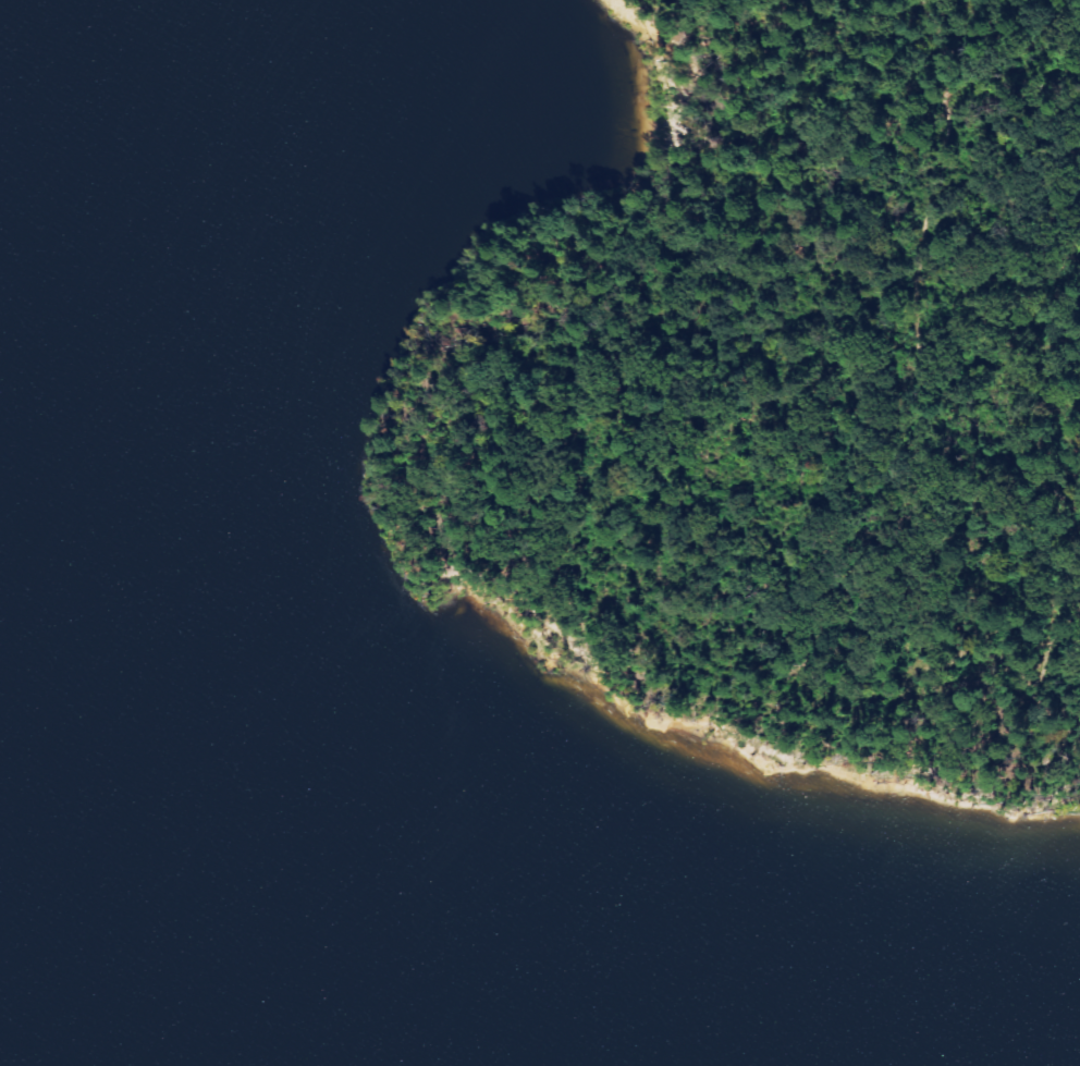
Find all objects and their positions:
road: (928, 254)

